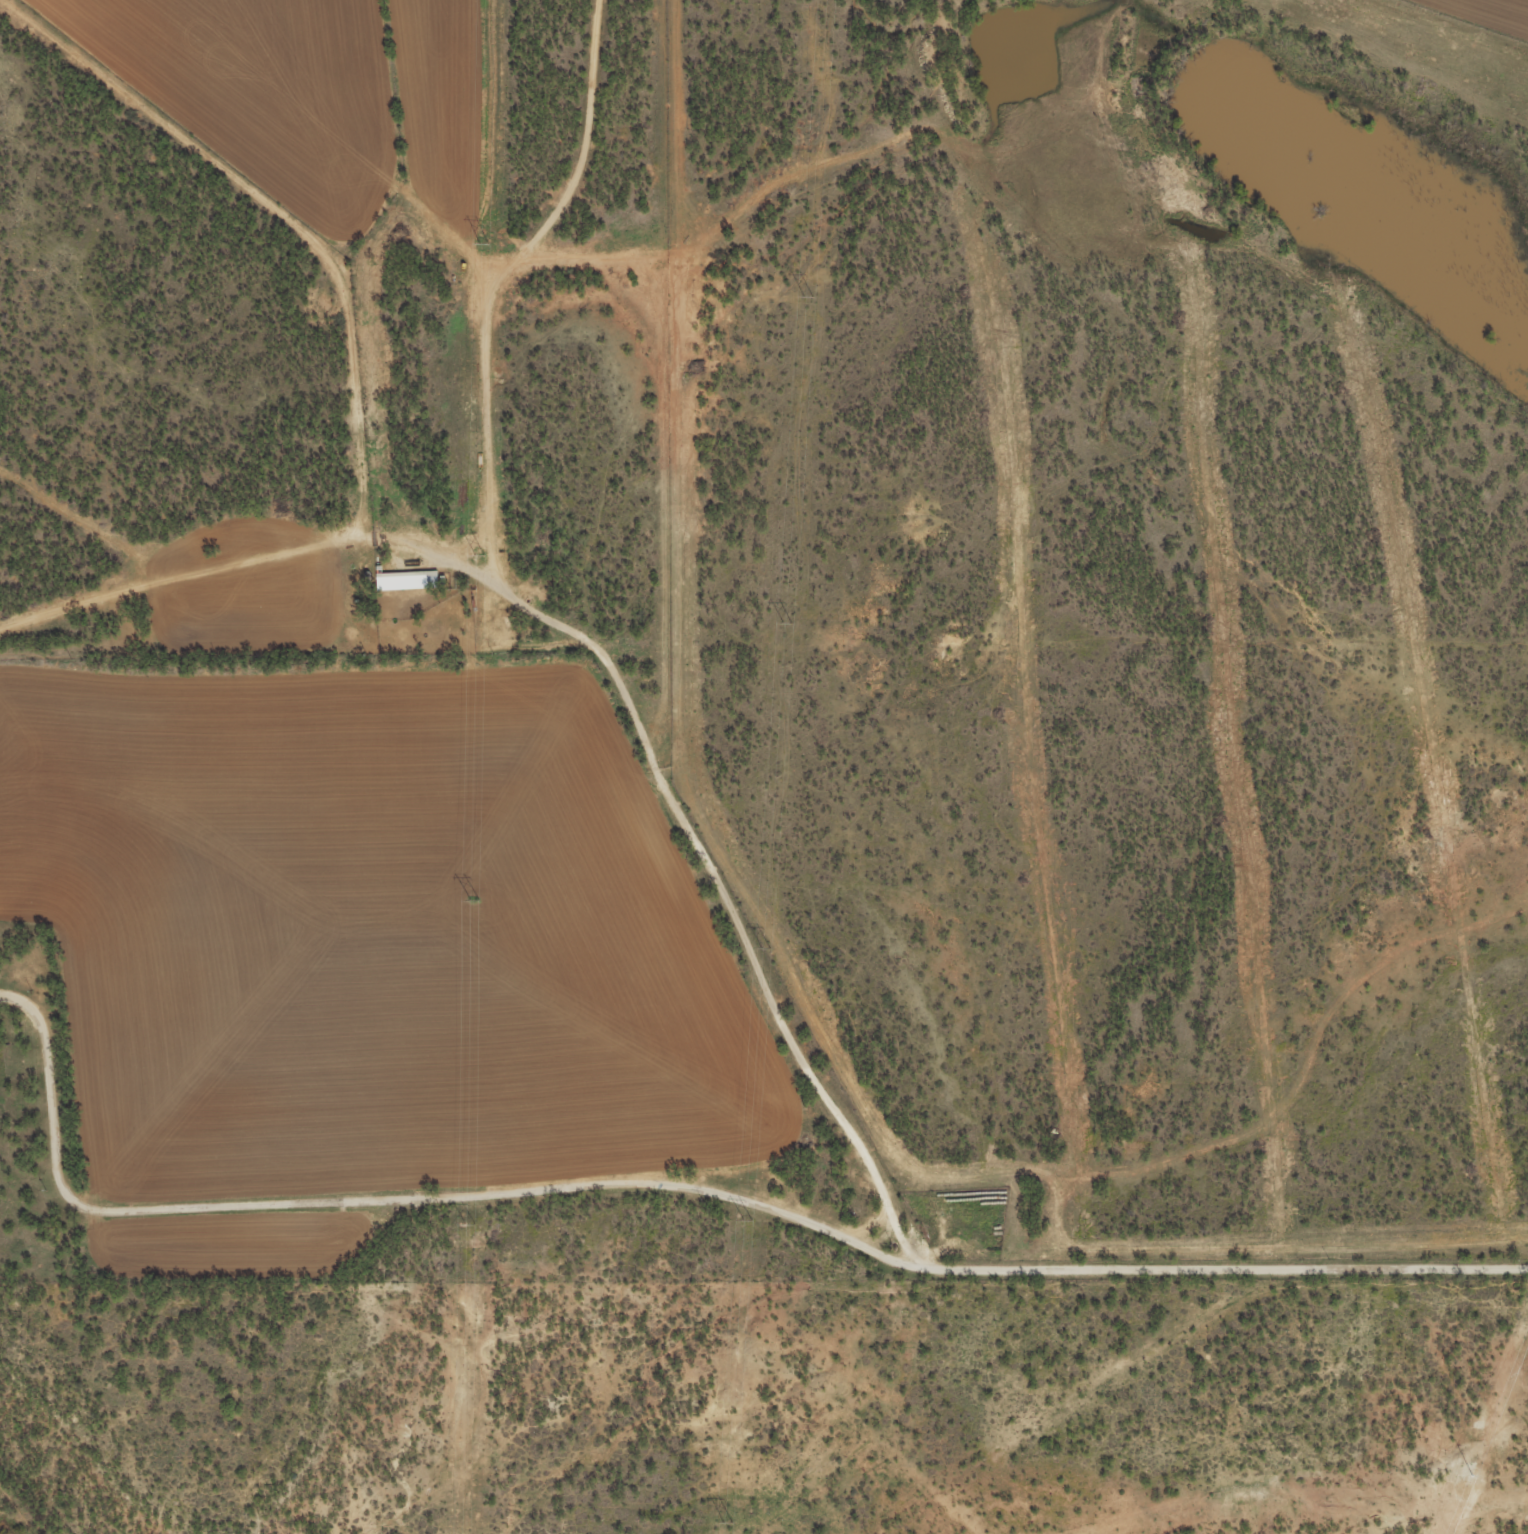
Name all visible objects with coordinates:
power tower: (482, 243)
power tower: (806, 296)
power tower: (478, 553)
building: (407, 589)
power tower: (785, 622)
power tower: (473, 900)
power tower: (763, 947)
road: (686, 1186)
power tower: (746, 1219)
power tower: (468, 1225)
power tower: (726, 1522)

